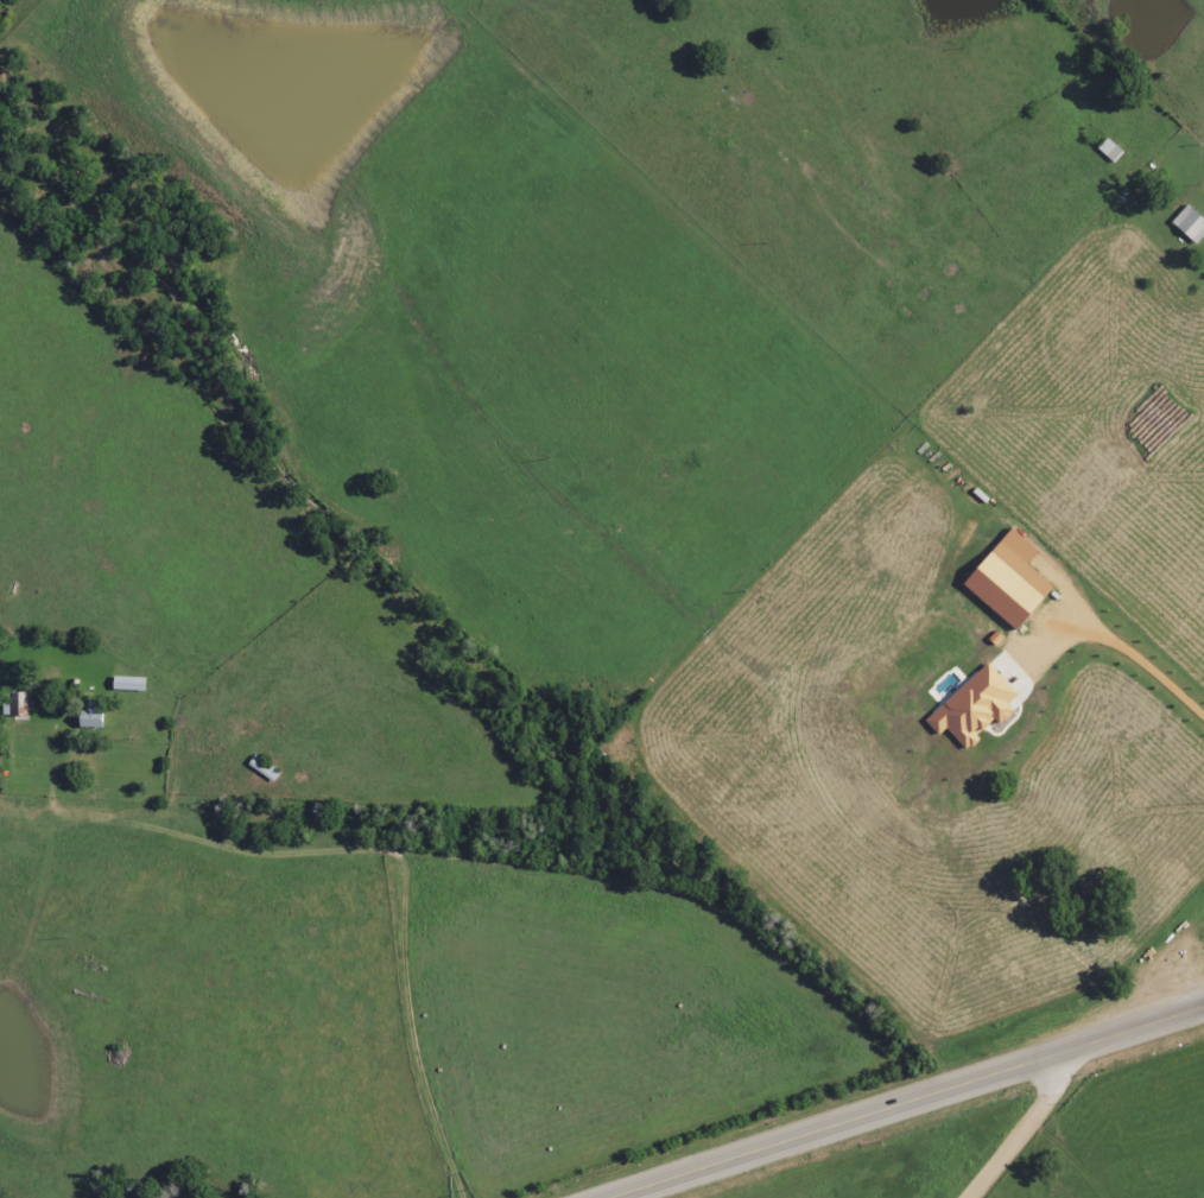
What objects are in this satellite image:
building: (1110, 151)
building: (1190, 224)
building: (1007, 585)
building: (15, 704)
building: (974, 708)
building: (90, 716)
road: (546, 866)
road: (906, 1102)
road: (1031, 1122)

